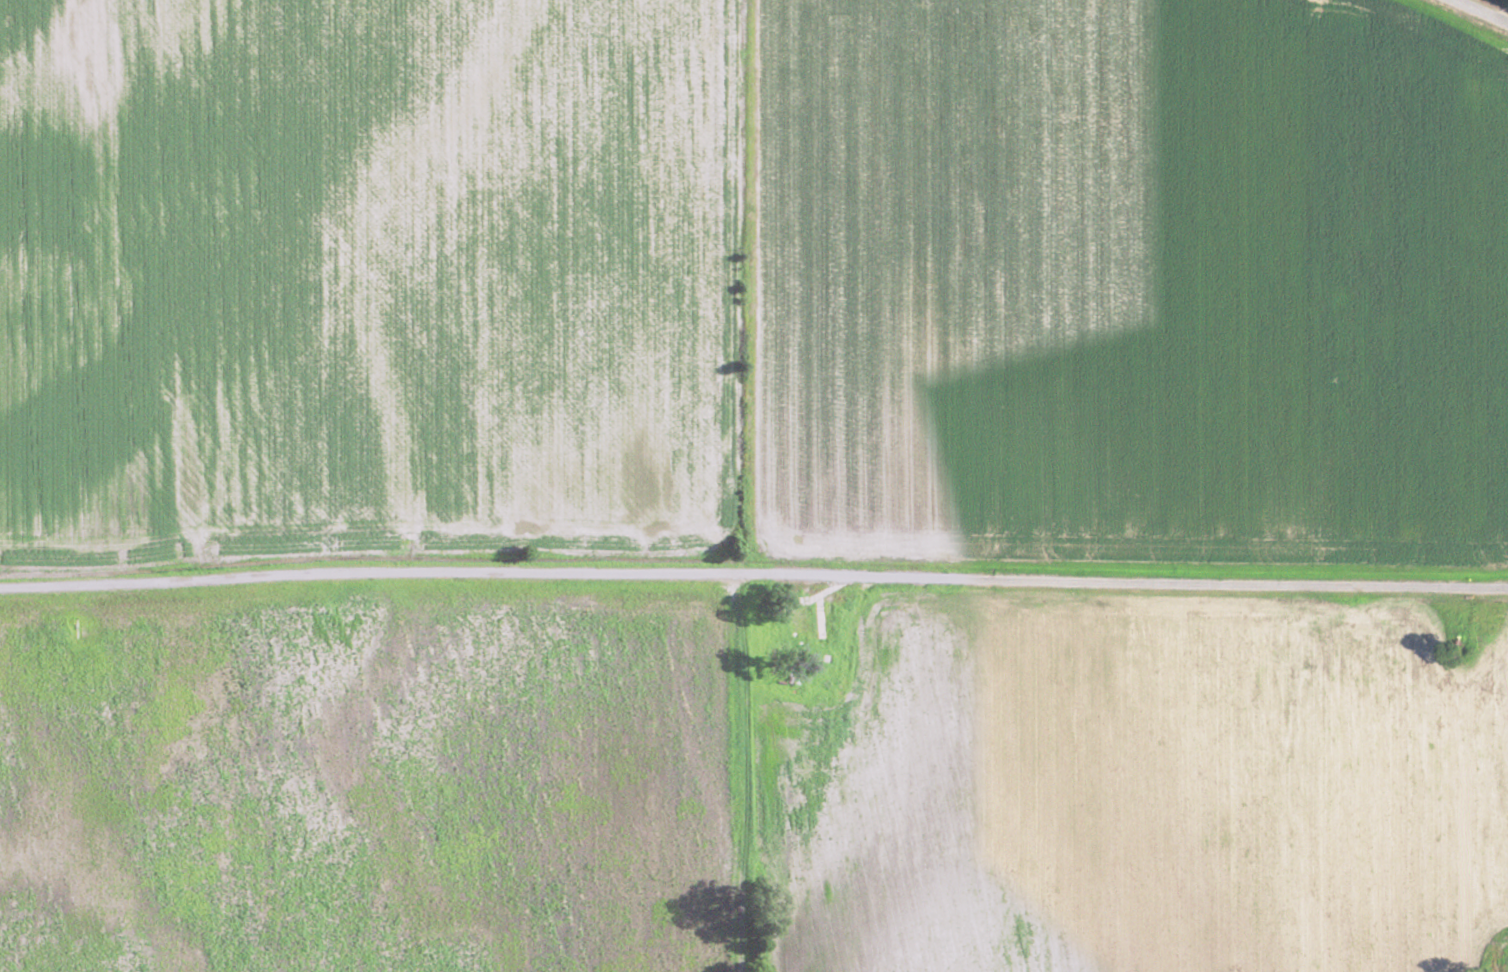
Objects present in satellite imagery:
road: (1486, 9)
road: (754, 601)
building: (820, 624)
building: (1507, 968)

